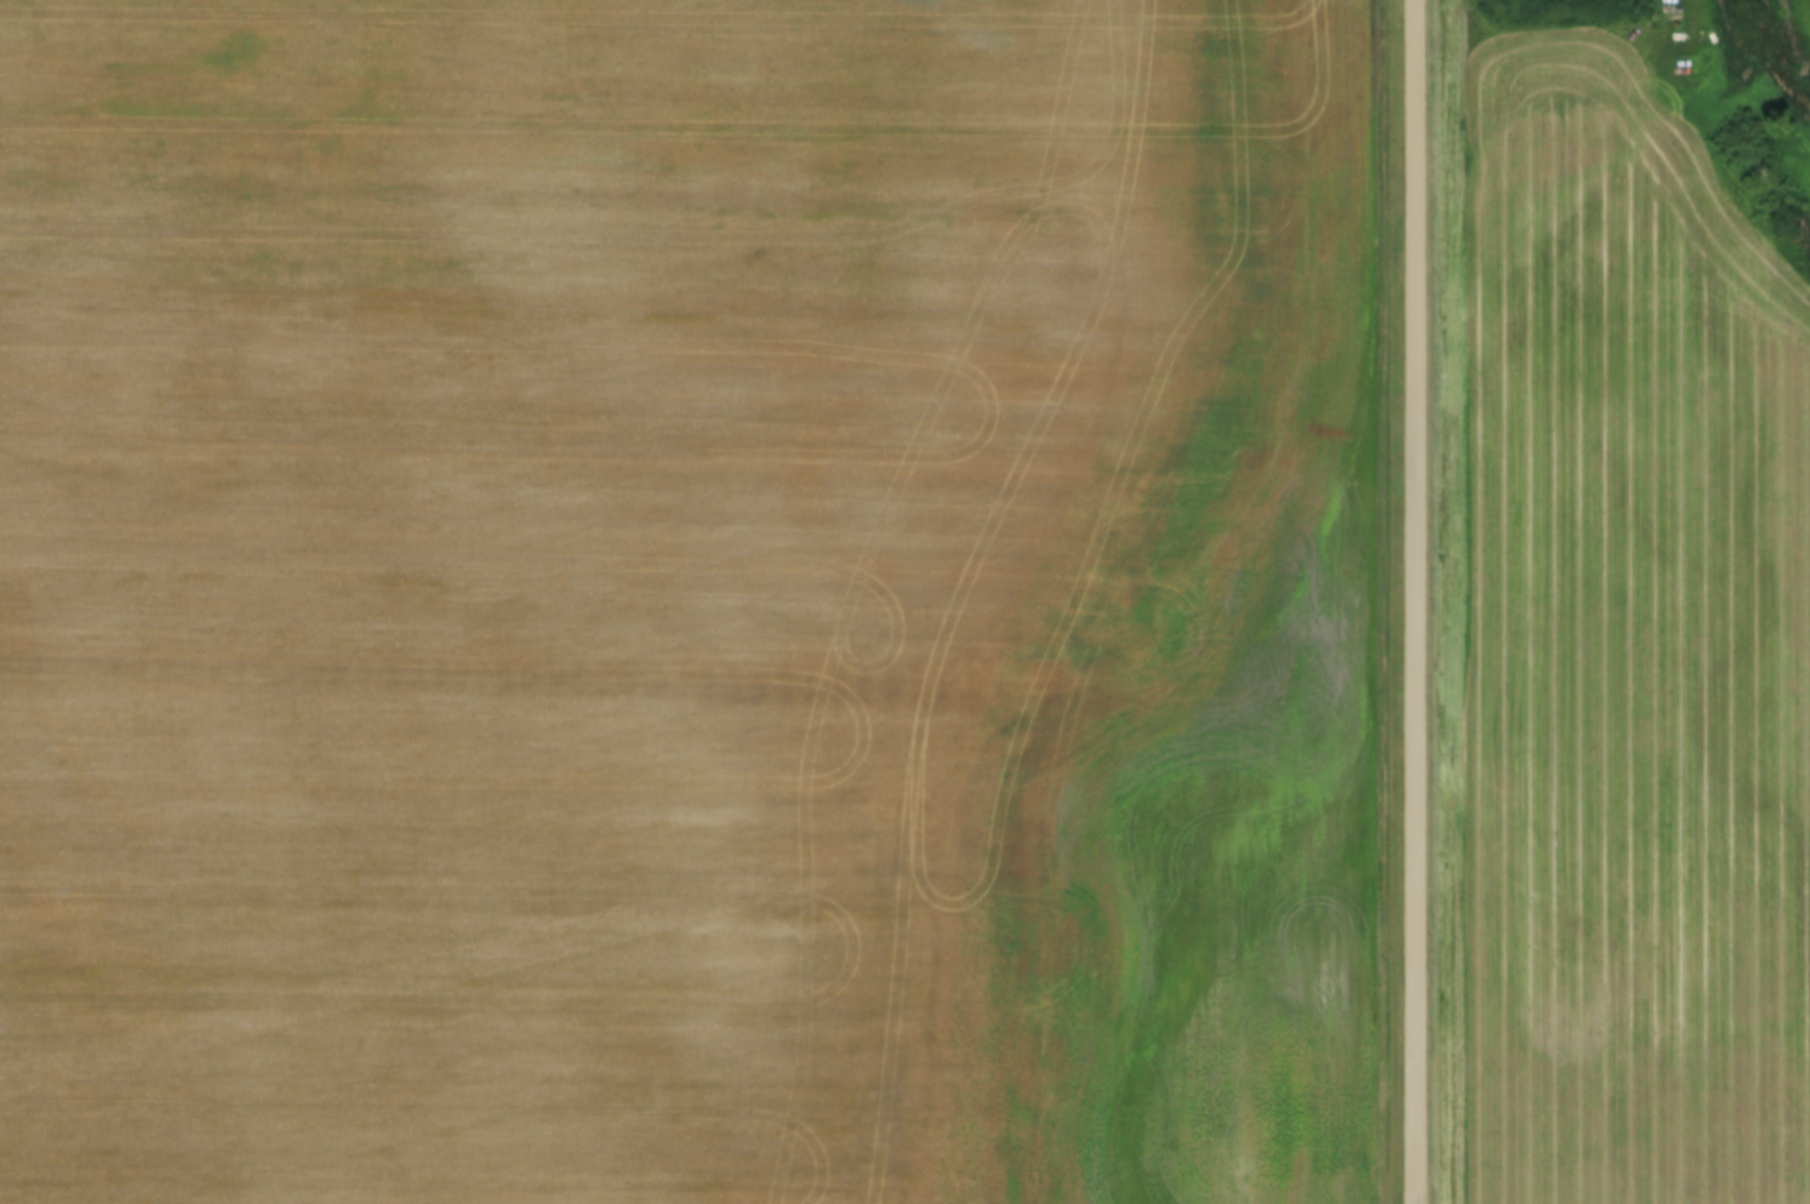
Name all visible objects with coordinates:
road: (1416, 601)

